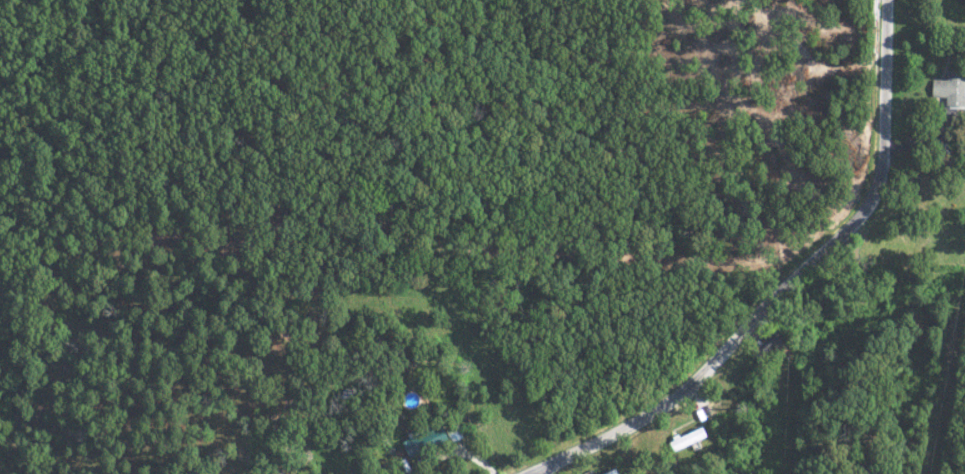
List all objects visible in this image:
building: (948, 89)
road: (787, 285)
building: (691, 436)
building: (431, 438)
road: (452, 450)
road: (539, 472)
building: (615, 472)
building: (284, 473)

